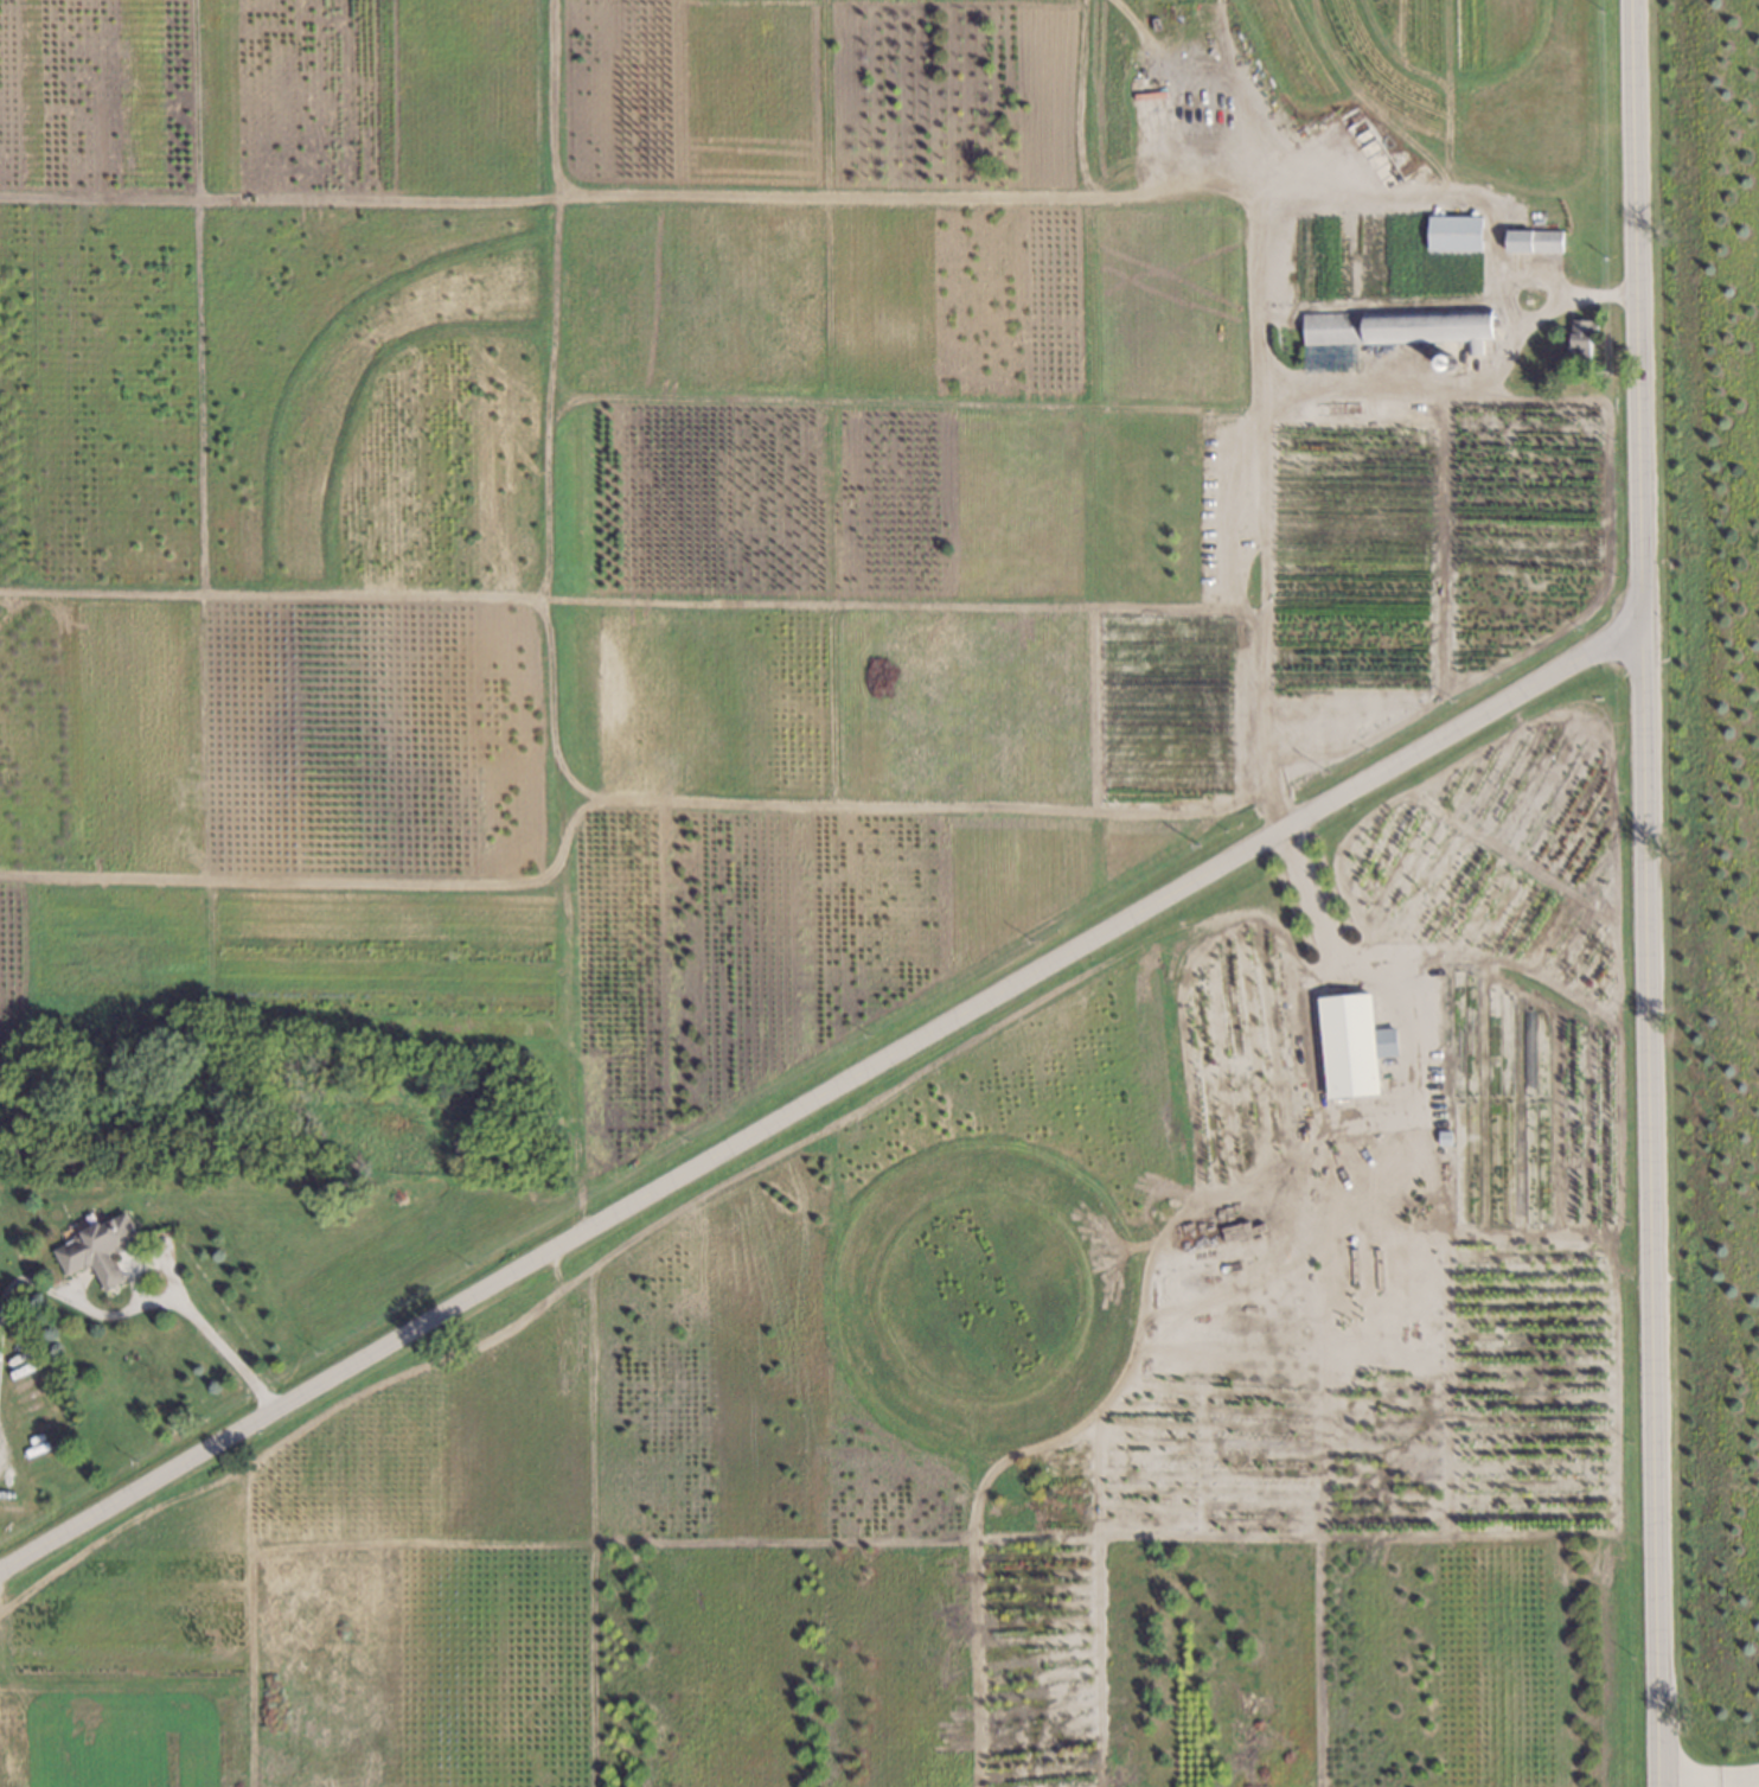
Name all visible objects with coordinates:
building: (1456, 235)
building: (1535, 242)
building: (1387, 334)
building: (1578, 337)
building: (1441, 365)
water tower: (1445, 365)
road: (1254, 415)
road: (1640, 893)
building: (1355, 1048)
road: (1416, 1072)
road: (817, 1096)
building: (1440, 1132)
building: (96, 1249)
road: (68, 1297)
road: (216, 1342)
road: (1707, 1778)

